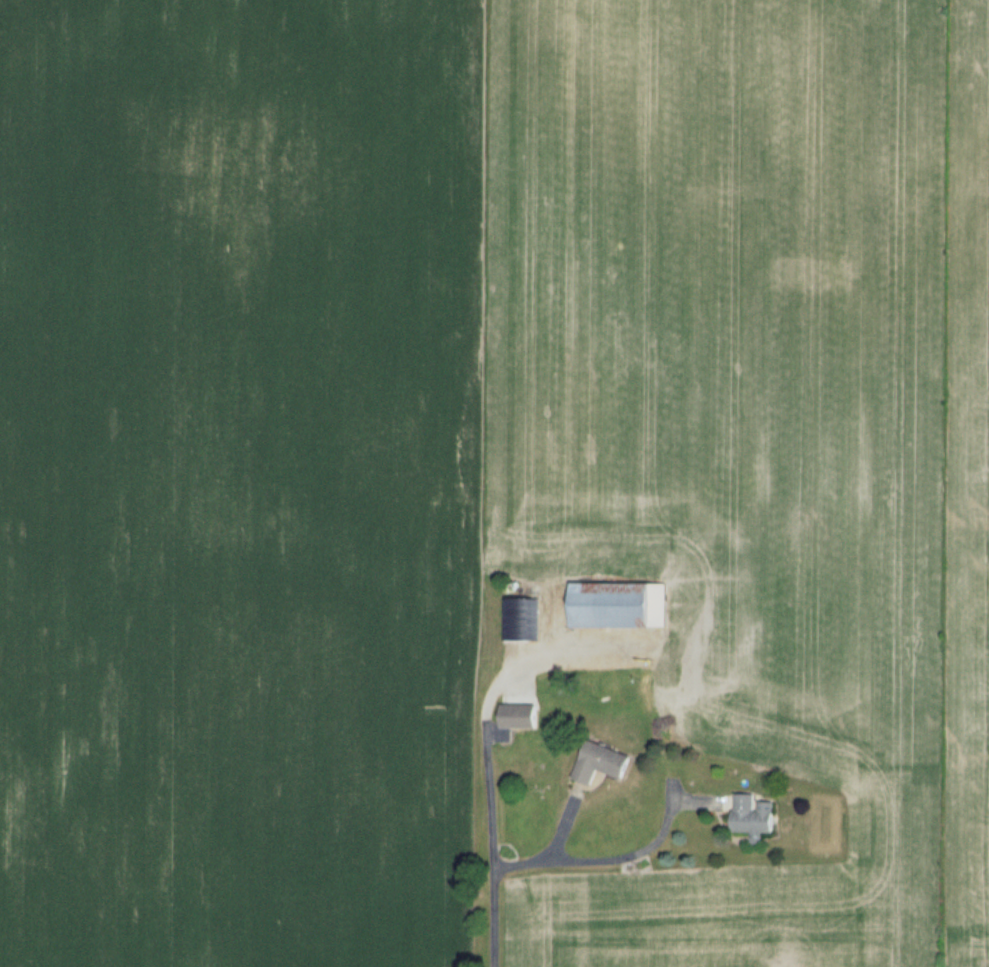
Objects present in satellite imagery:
building: (618, 603)
building: (519, 618)
building: (517, 715)
building: (600, 761)
building: (751, 816)
road: (483, 847)
road: (583, 860)

